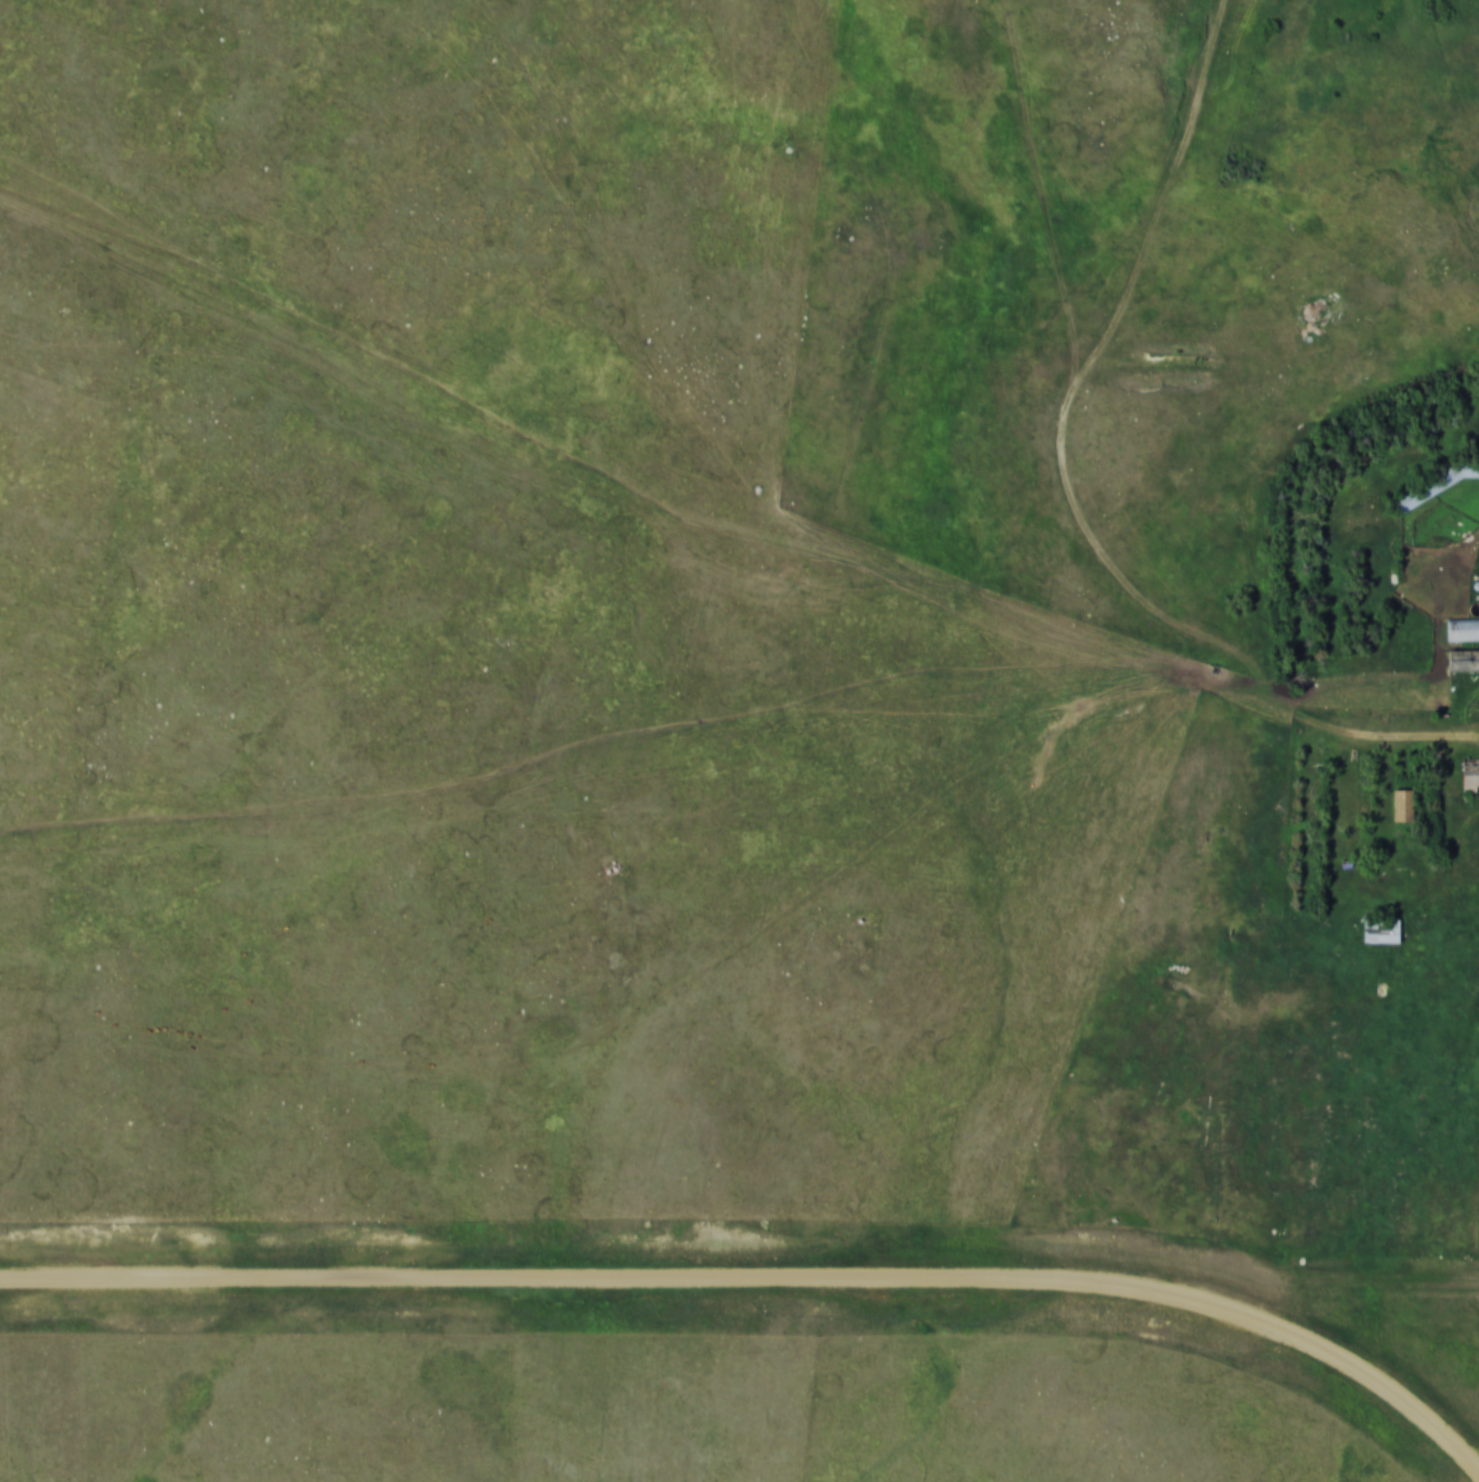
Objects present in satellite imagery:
road: (1080, 522)
building: (1464, 631)
building: (1464, 662)
building: (1472, 778)
building: (1406, 806)
building: (1385, 931)
road: (766, 1278)

